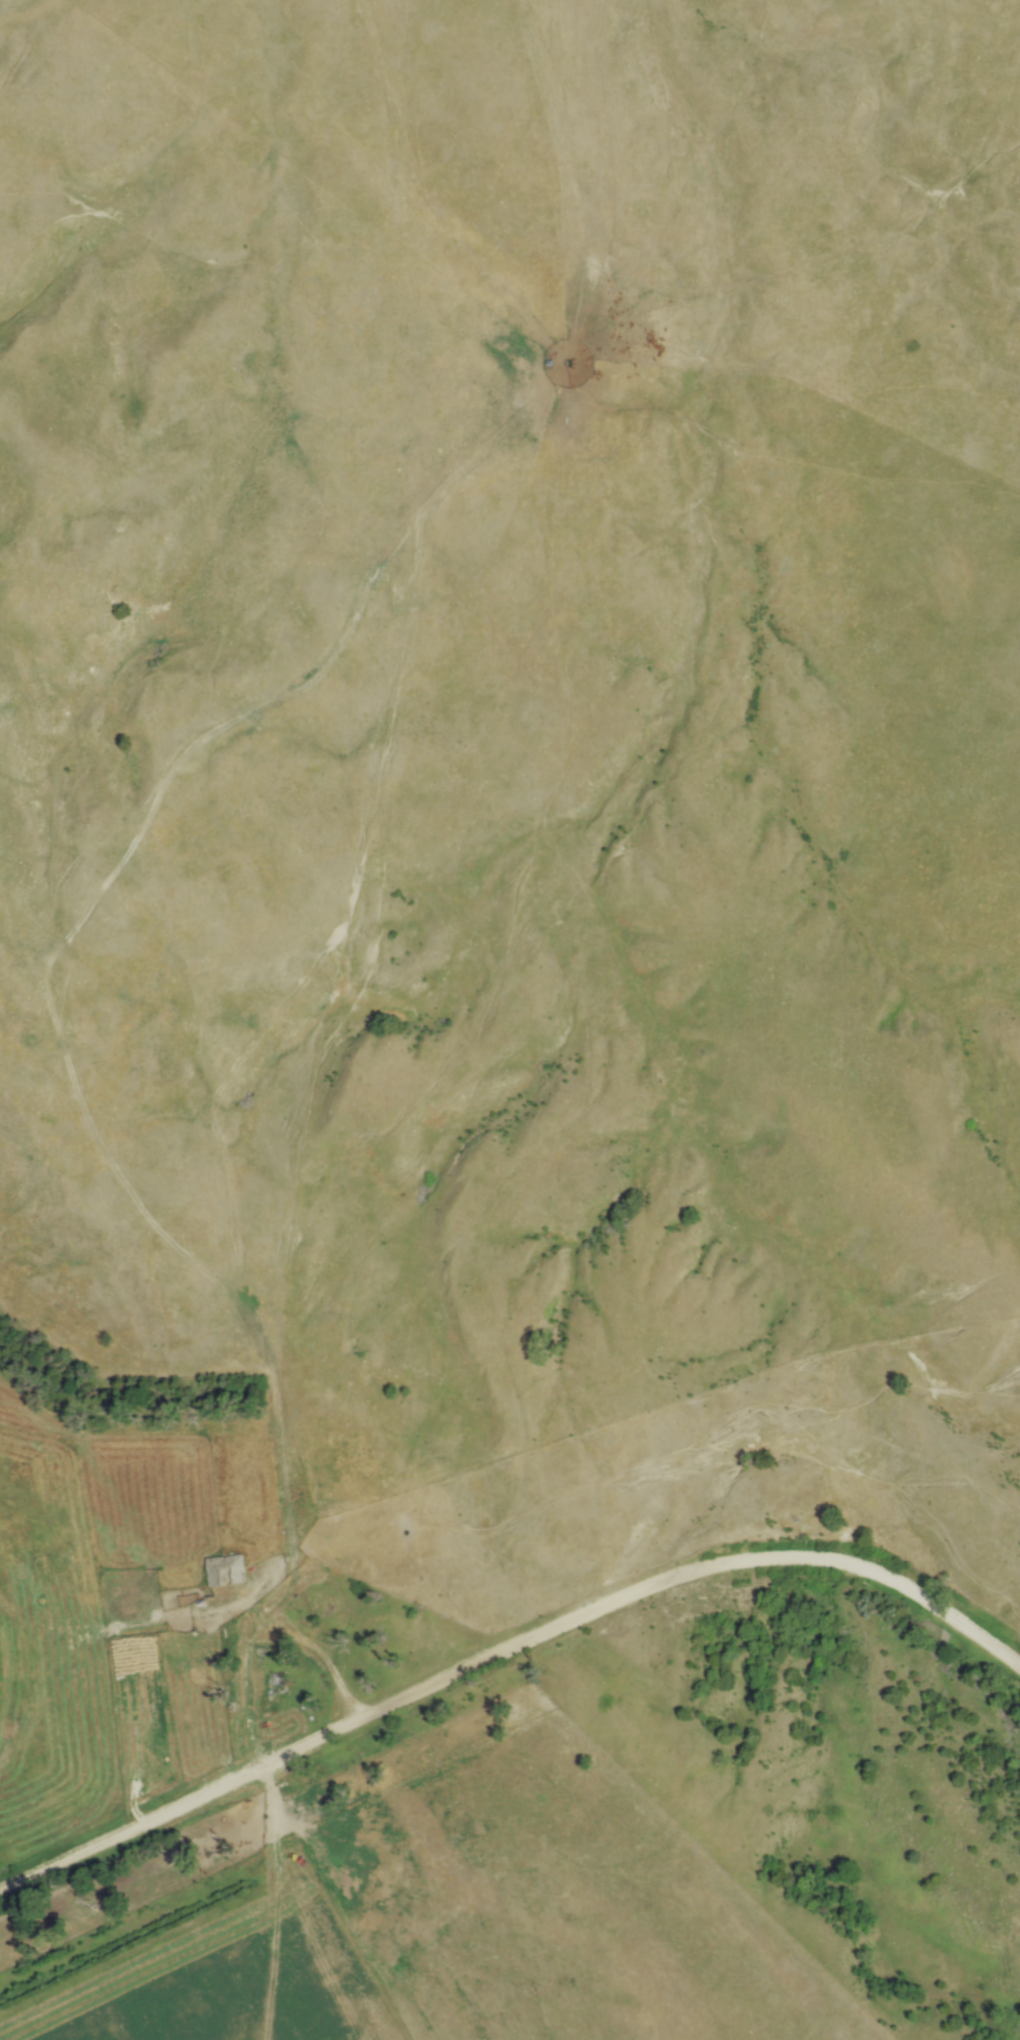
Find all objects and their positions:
building: (226, 1572)
road: (505, 1650)
road: (332, 1664)

